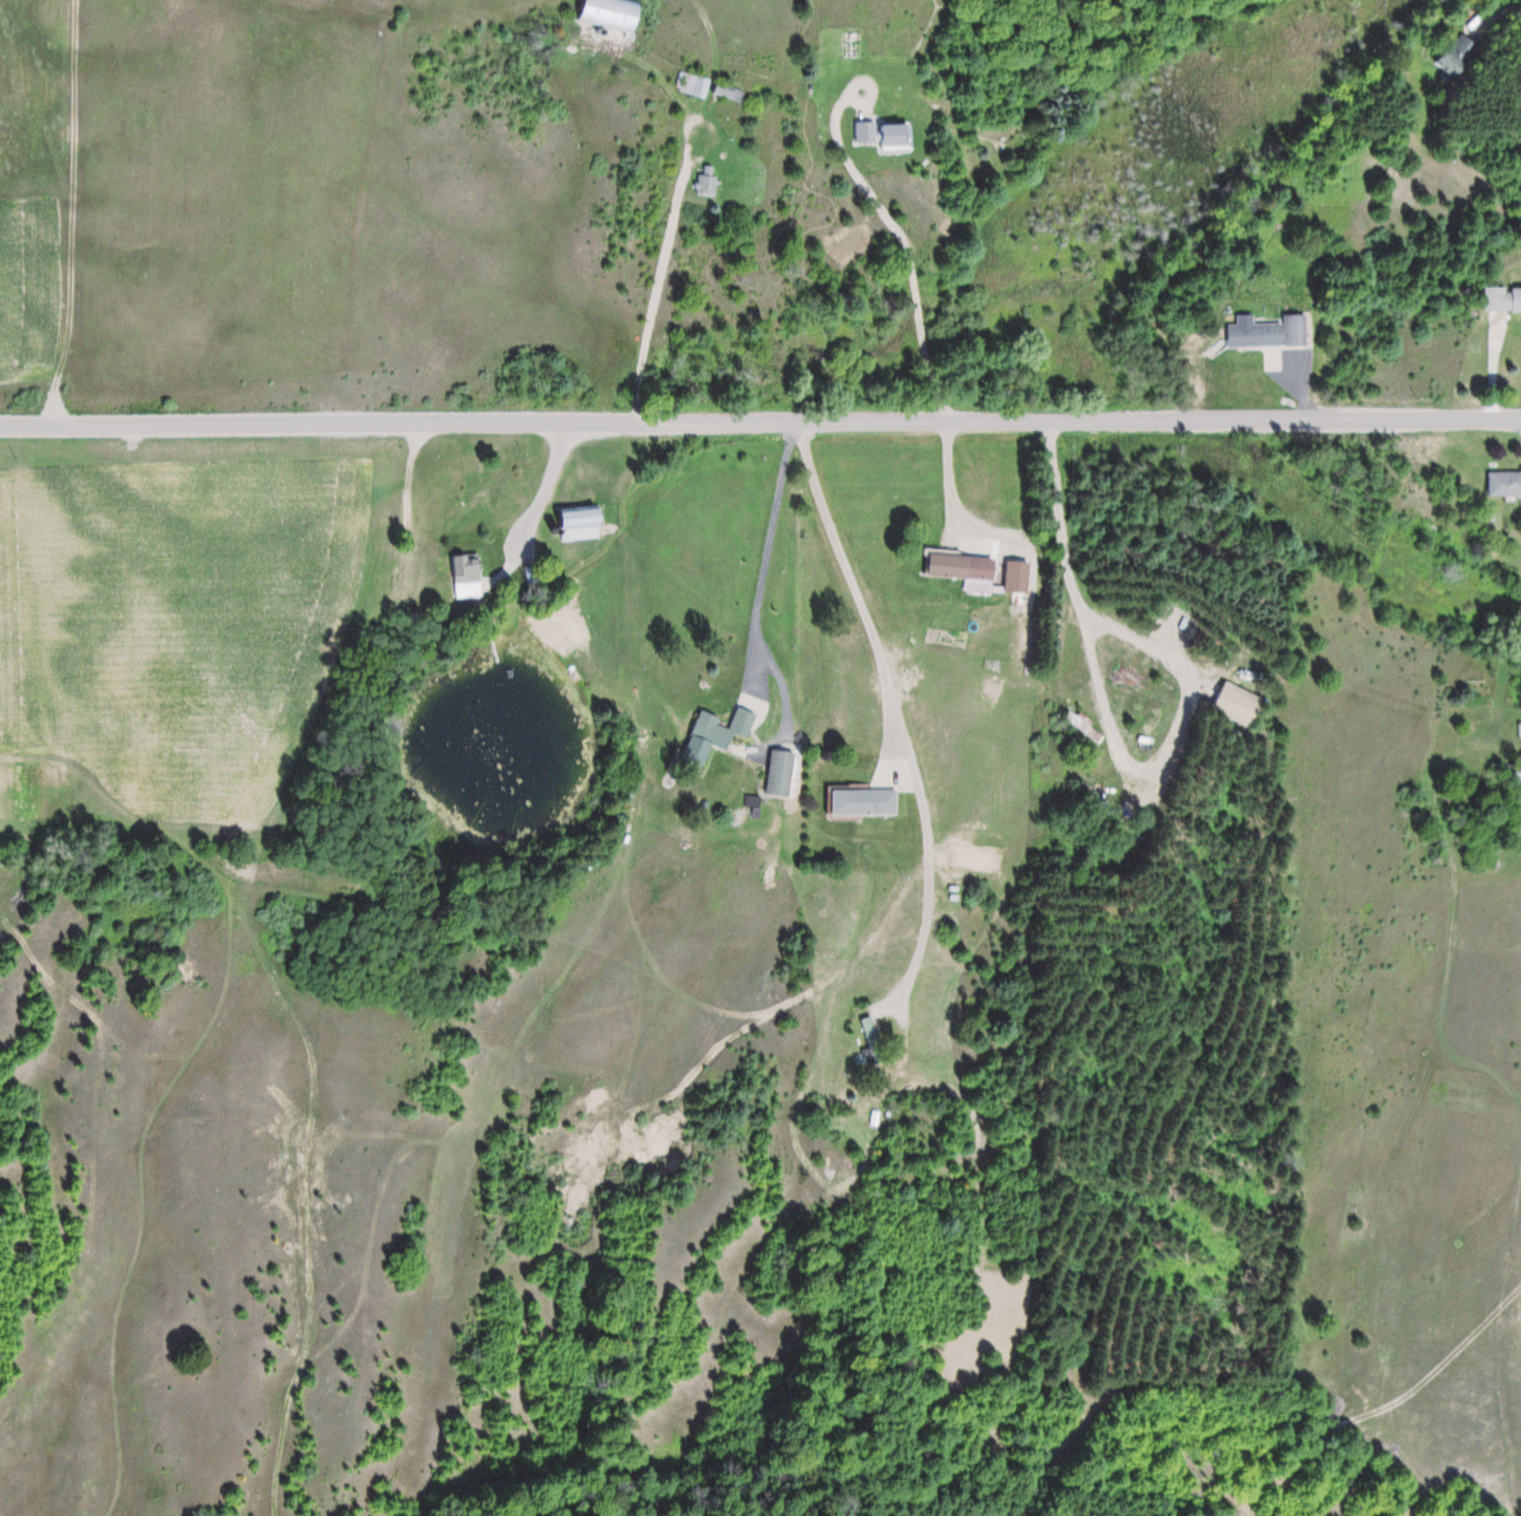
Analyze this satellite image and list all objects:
building: (612, 13)
building: (1449, 63)
building: (708, 181)
building: (1502, 299)
building: (1269, 333)
road: (760, 427)
building: (1503, 483)
building: (582, 522)
building: (963, 570)
building: (468, 575)
building: (1236, 704)
building: (723, 728)
building: (1512, 773)
building: (781, 774)
building: (864, 802)
building: (873, 1040)

